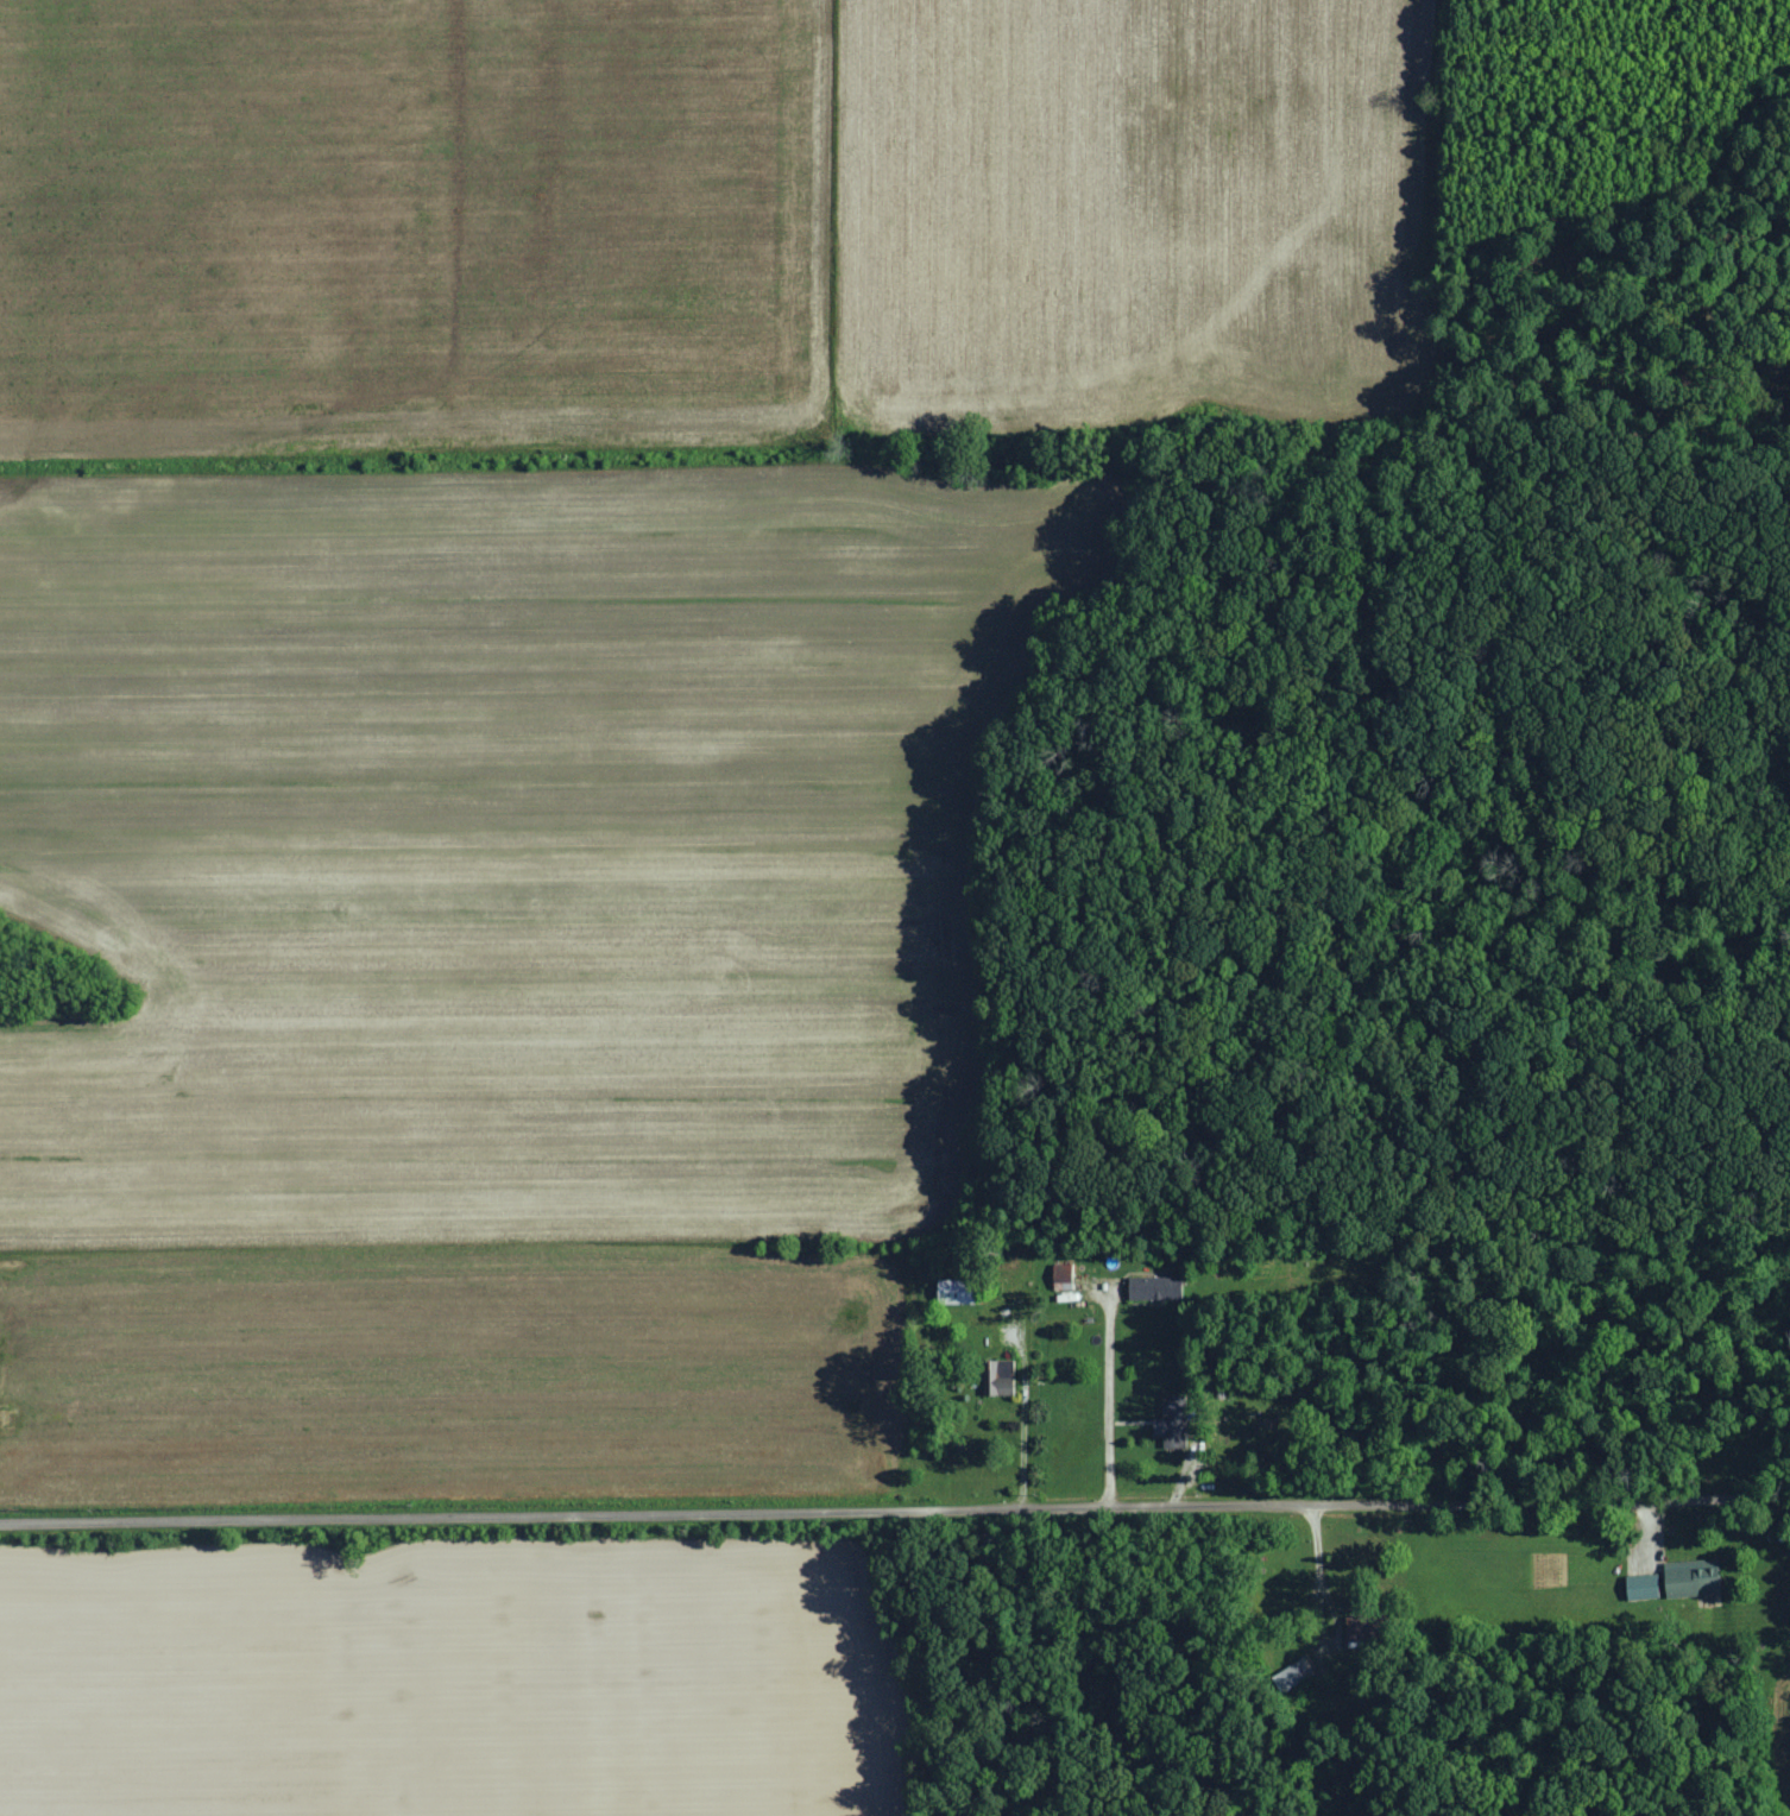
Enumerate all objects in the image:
building: (1065, 1276)
building: (1156, 1288)
building: (959, 1291)
building: (1001, 1377)
road: (1021, 1402)
road: (1107, 1402)
building: (1174, 1421)
road: (1783, 1505)
road: (895, 1513)
building: (1694, 1579)
building: (1644, 1587)
road: (1311, 1588)
building: (1359, 1627)
building: (1293, 1675)

